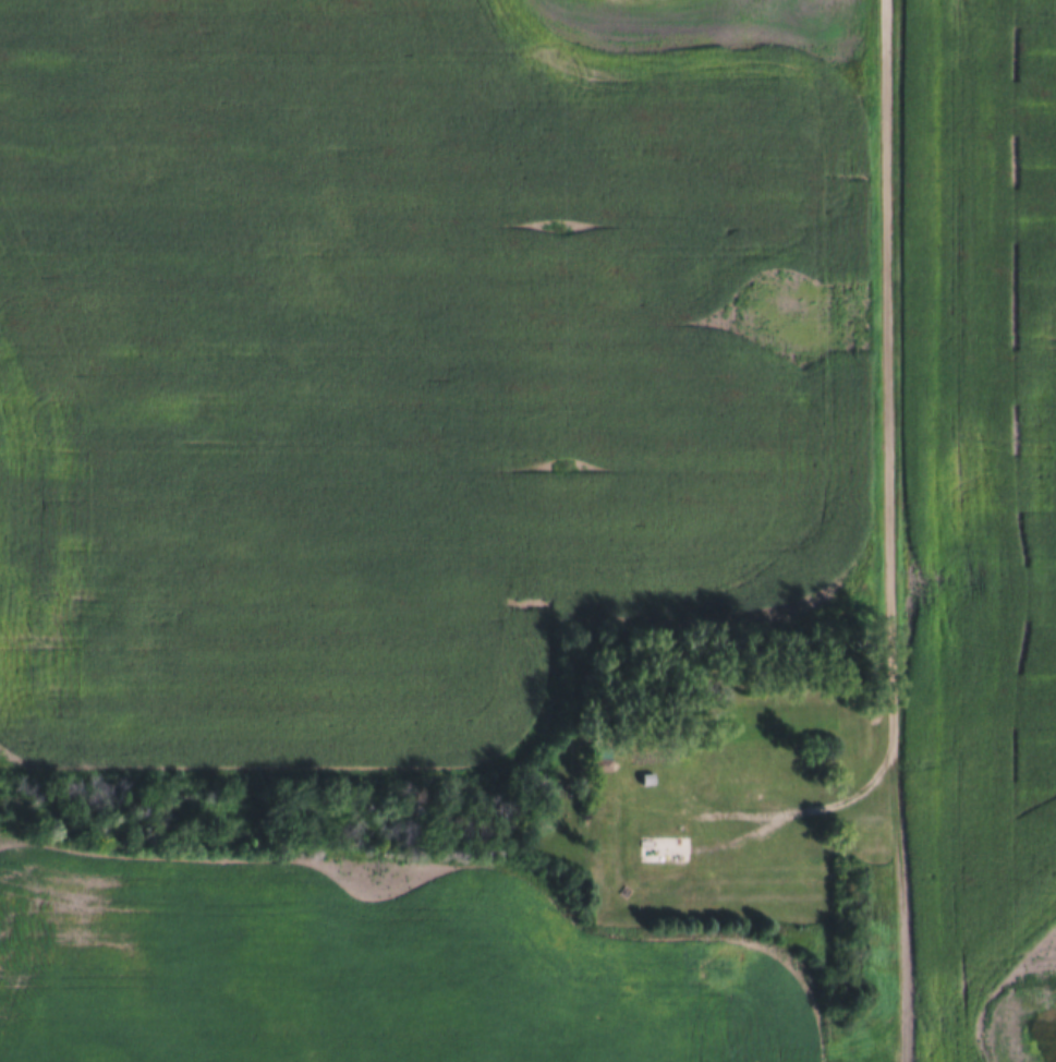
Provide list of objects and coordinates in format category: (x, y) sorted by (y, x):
road: (889, 376)
building: (741, 779)
road: (815, 810)
building: (677, 848)
road: (898, 907)

